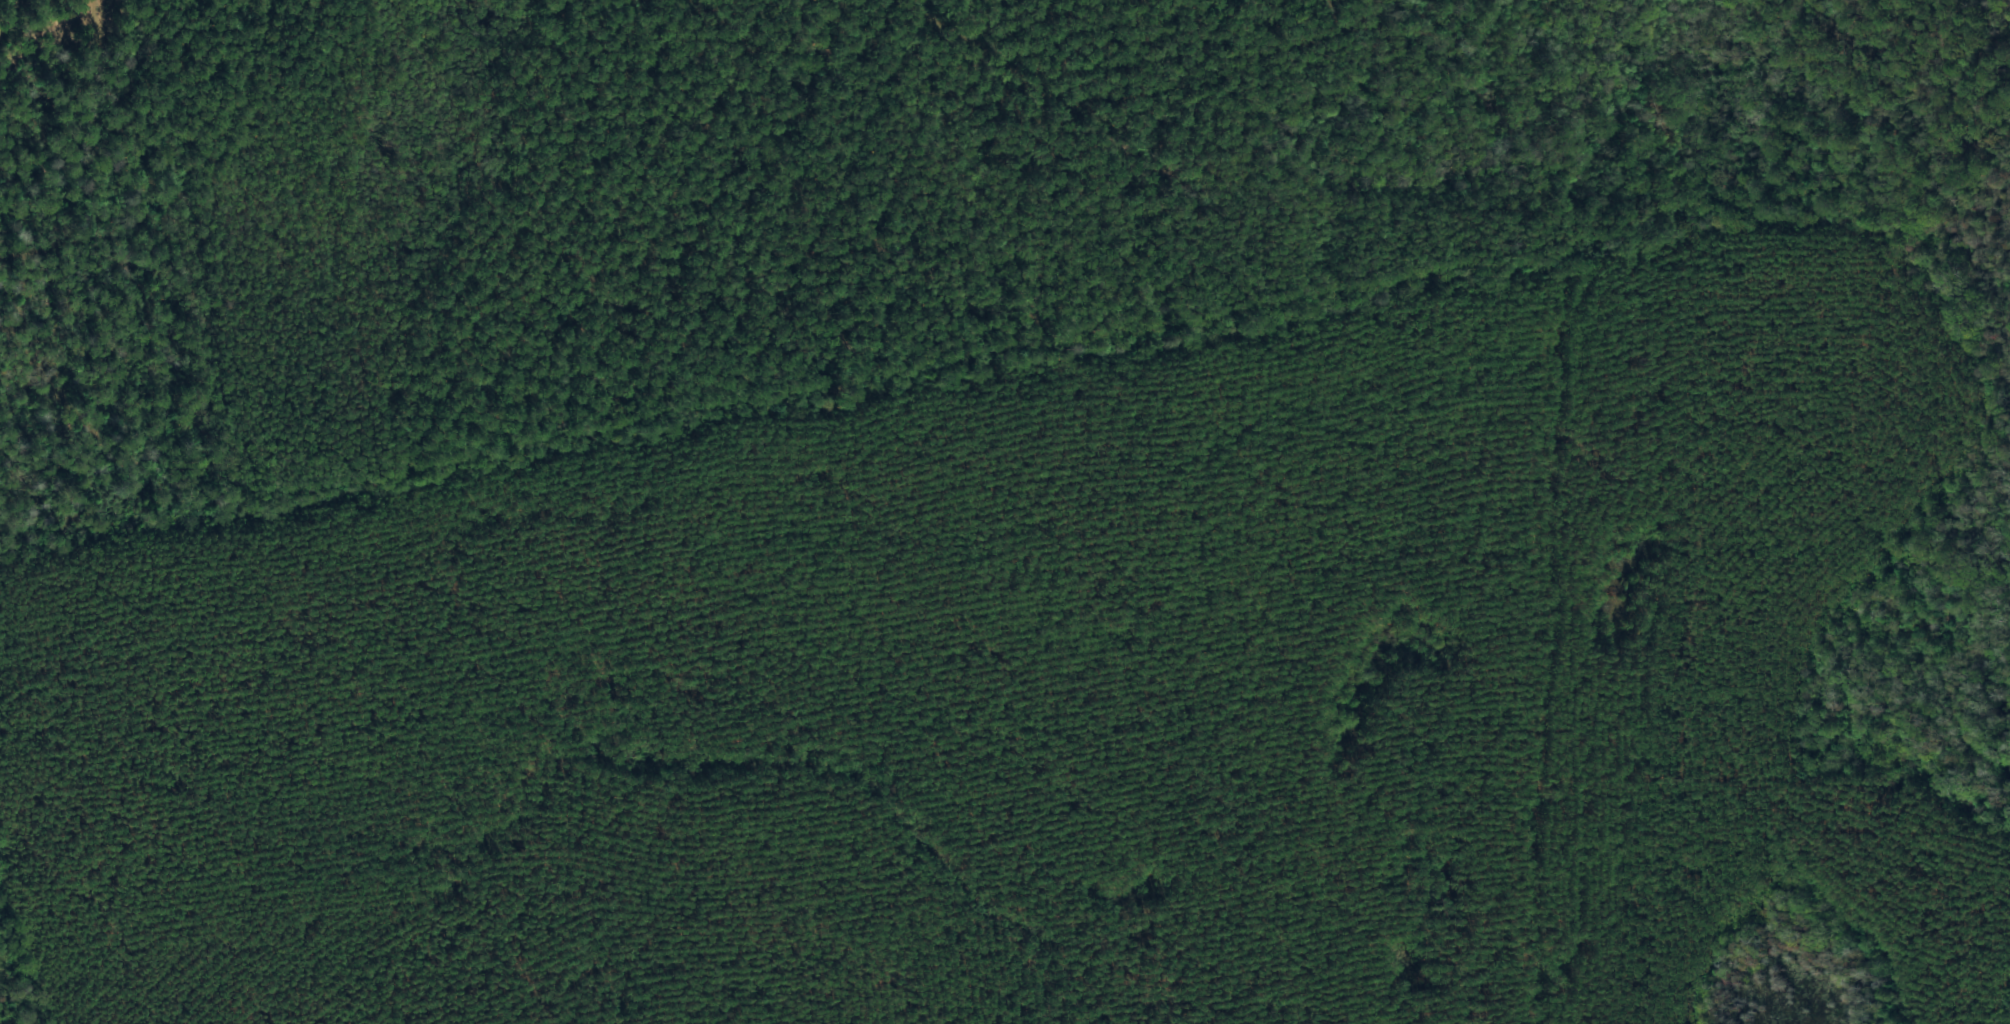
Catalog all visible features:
road: (13, 19)
park: (97, 25)

